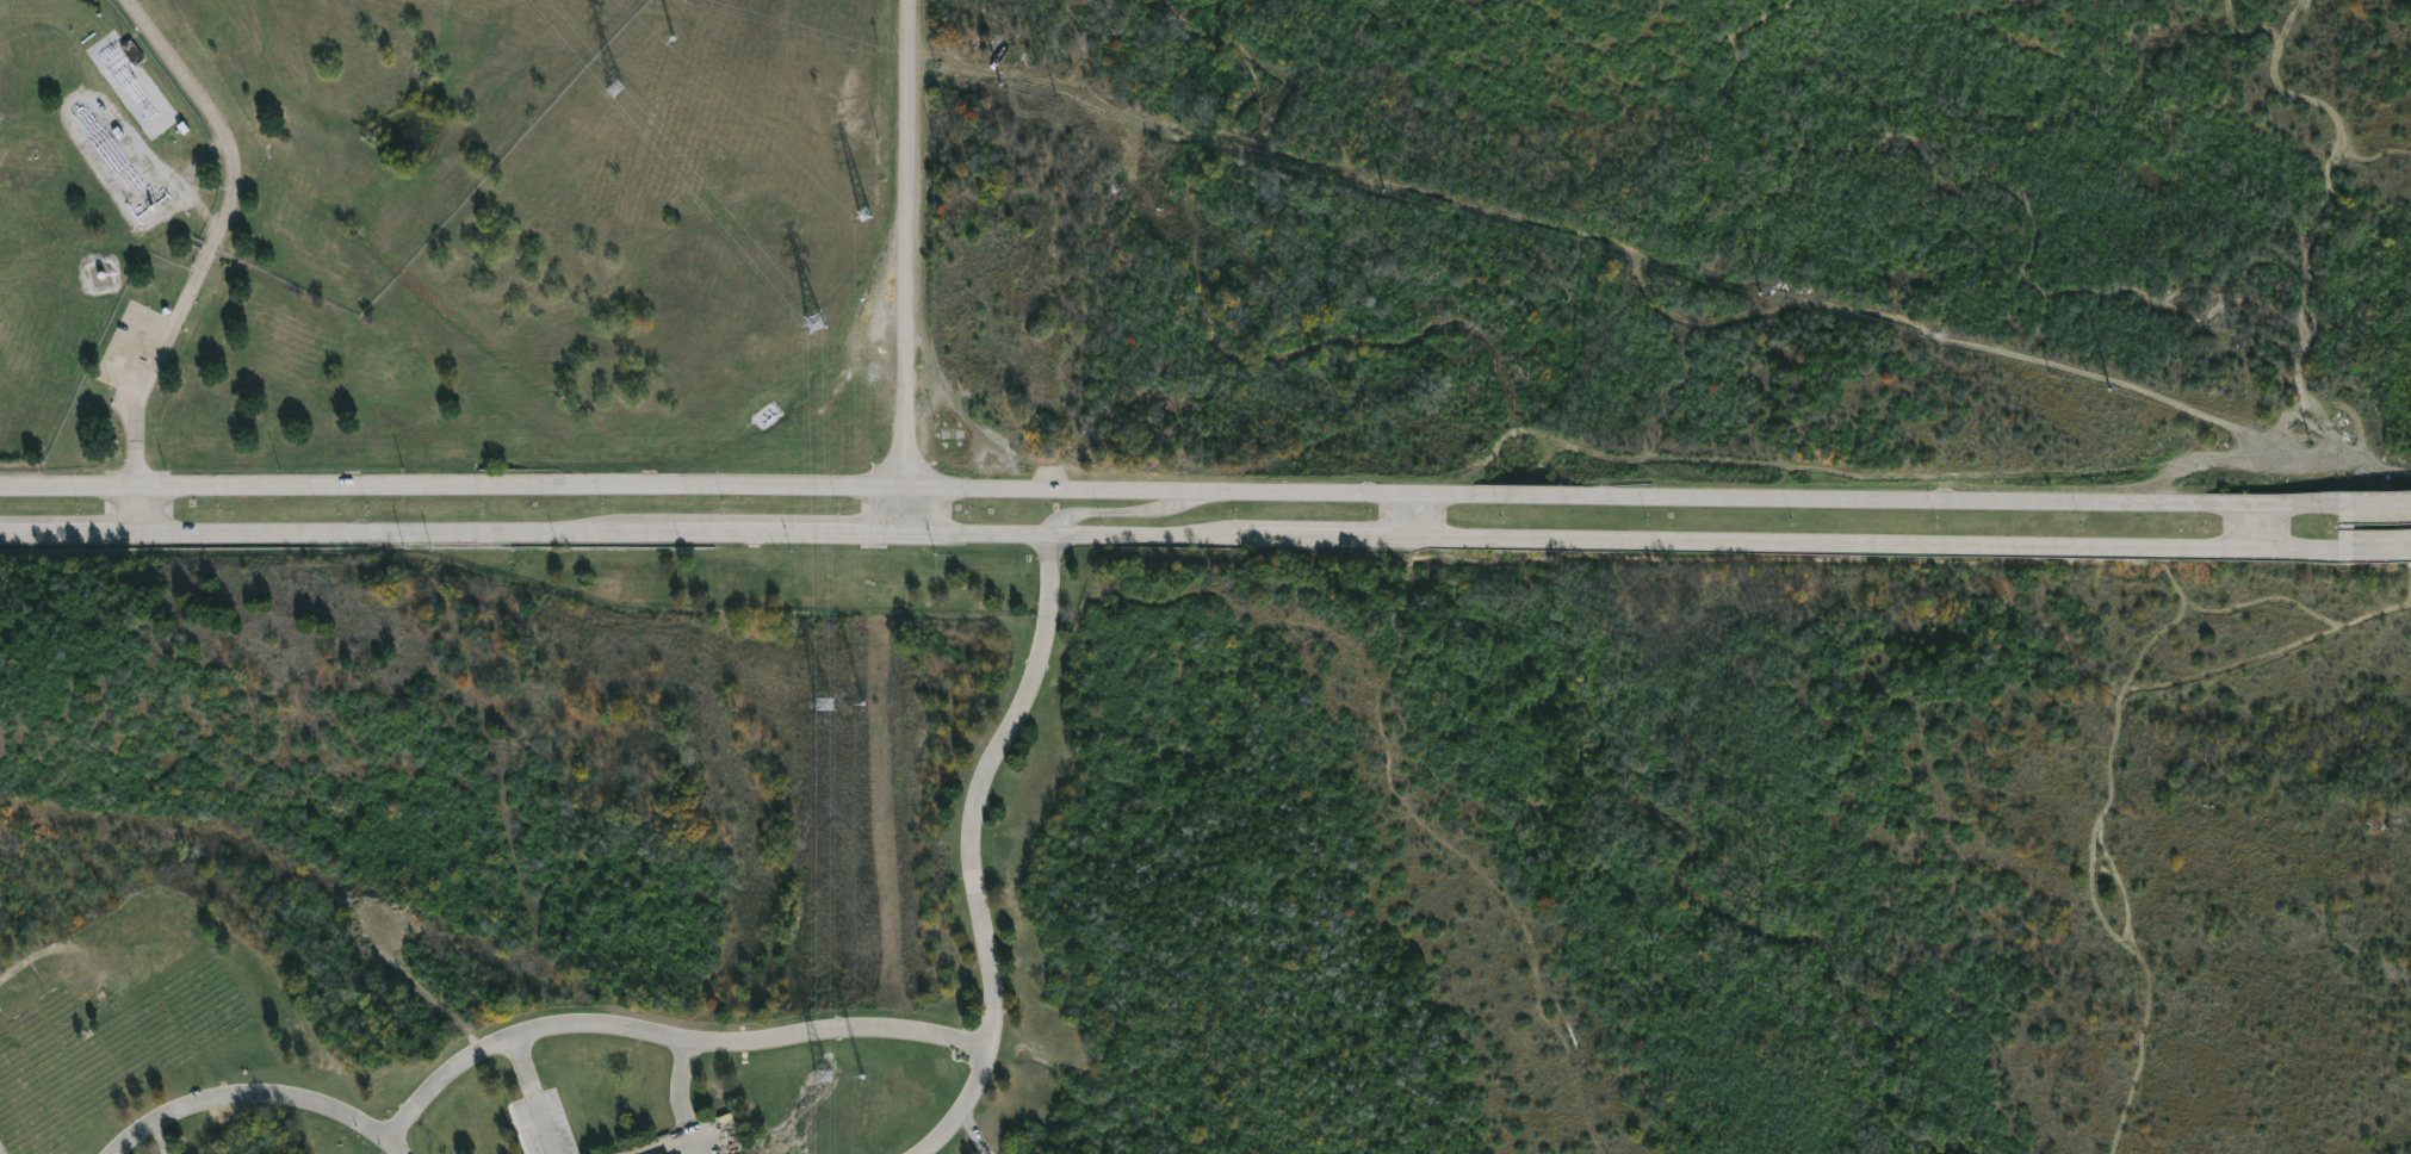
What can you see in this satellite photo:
building: (135, 54)
power tower: (620, 89)
road: (223, 234)
road: (913, 246)
power tower: (824, 322)
road: (452, 489)
road: (1630, 497)
road: (2382, 503)
road: (143, 509)
road: (904, 511)
road: (1129, 516)
road: (1415, 517)
road: (2256, 525)
road: (451, 531)
road: (1626, 542)
road: (2381, 544)
power tower: (830, 706)
park: (428, 845)
road: (972, 845)
park: (1203, 849)
park: (1663, 854)
road: (671, 1035)
power tower: (828, 1078)
road: (261, 1088)
road: (534, 1094)
road: (681, 1097)
road: (161, 1139)

